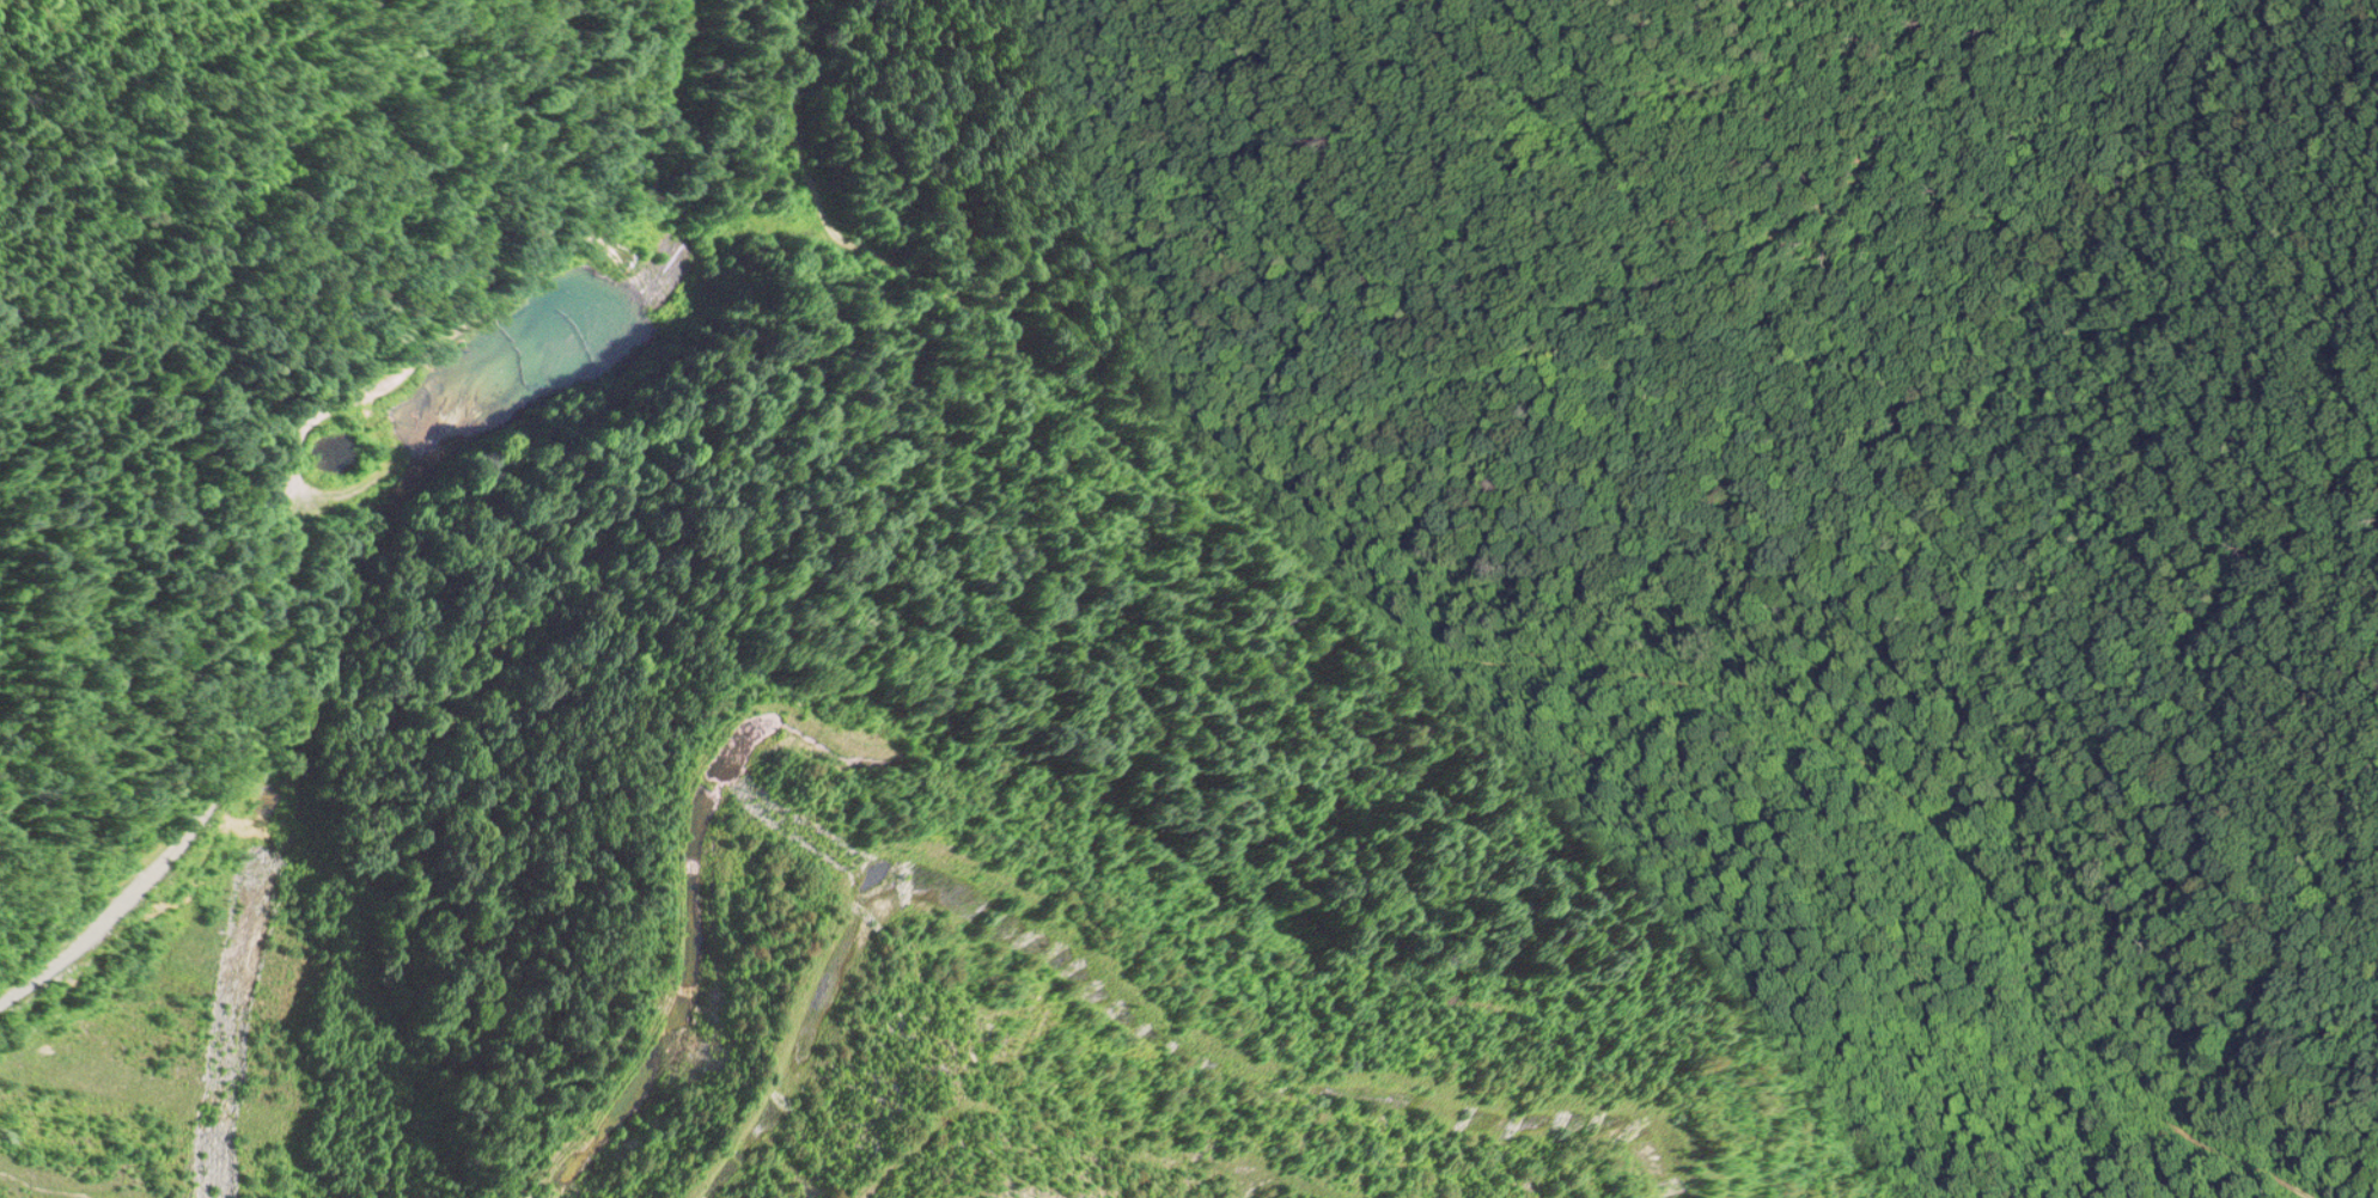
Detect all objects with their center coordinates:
quarry: (1189, 599)

